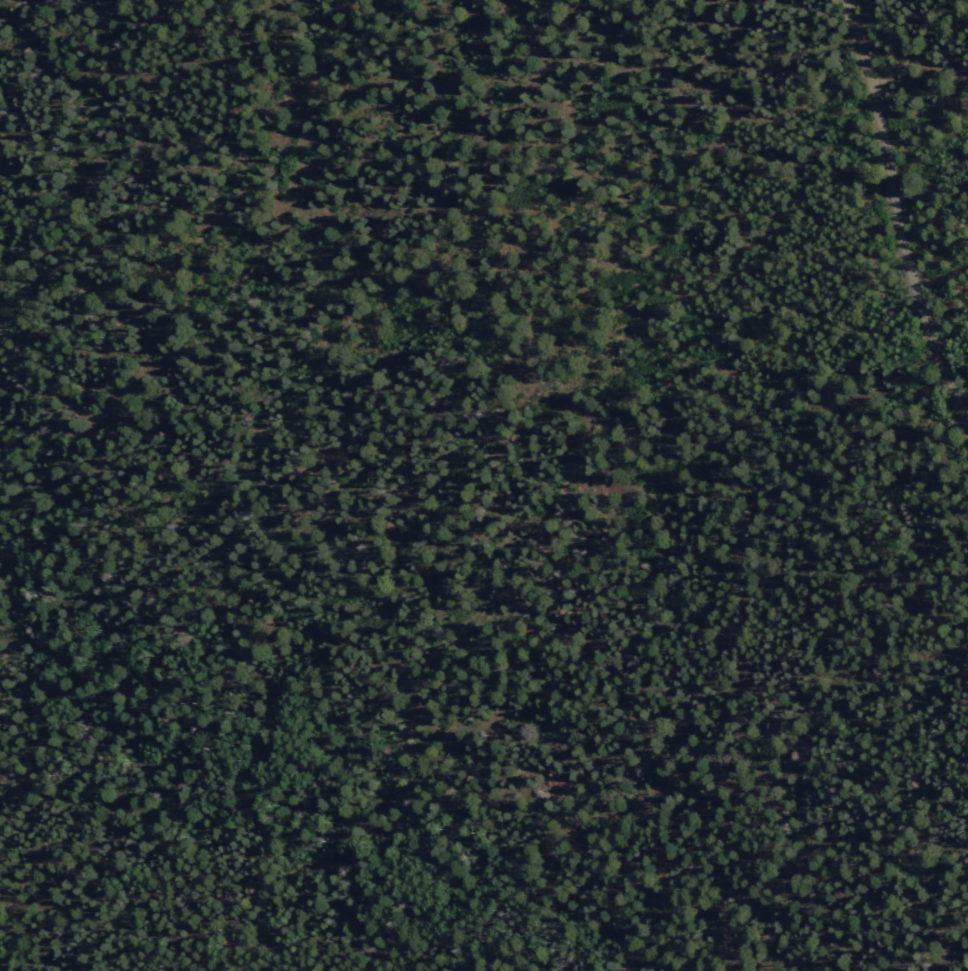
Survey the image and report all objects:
road: (926, 241)

